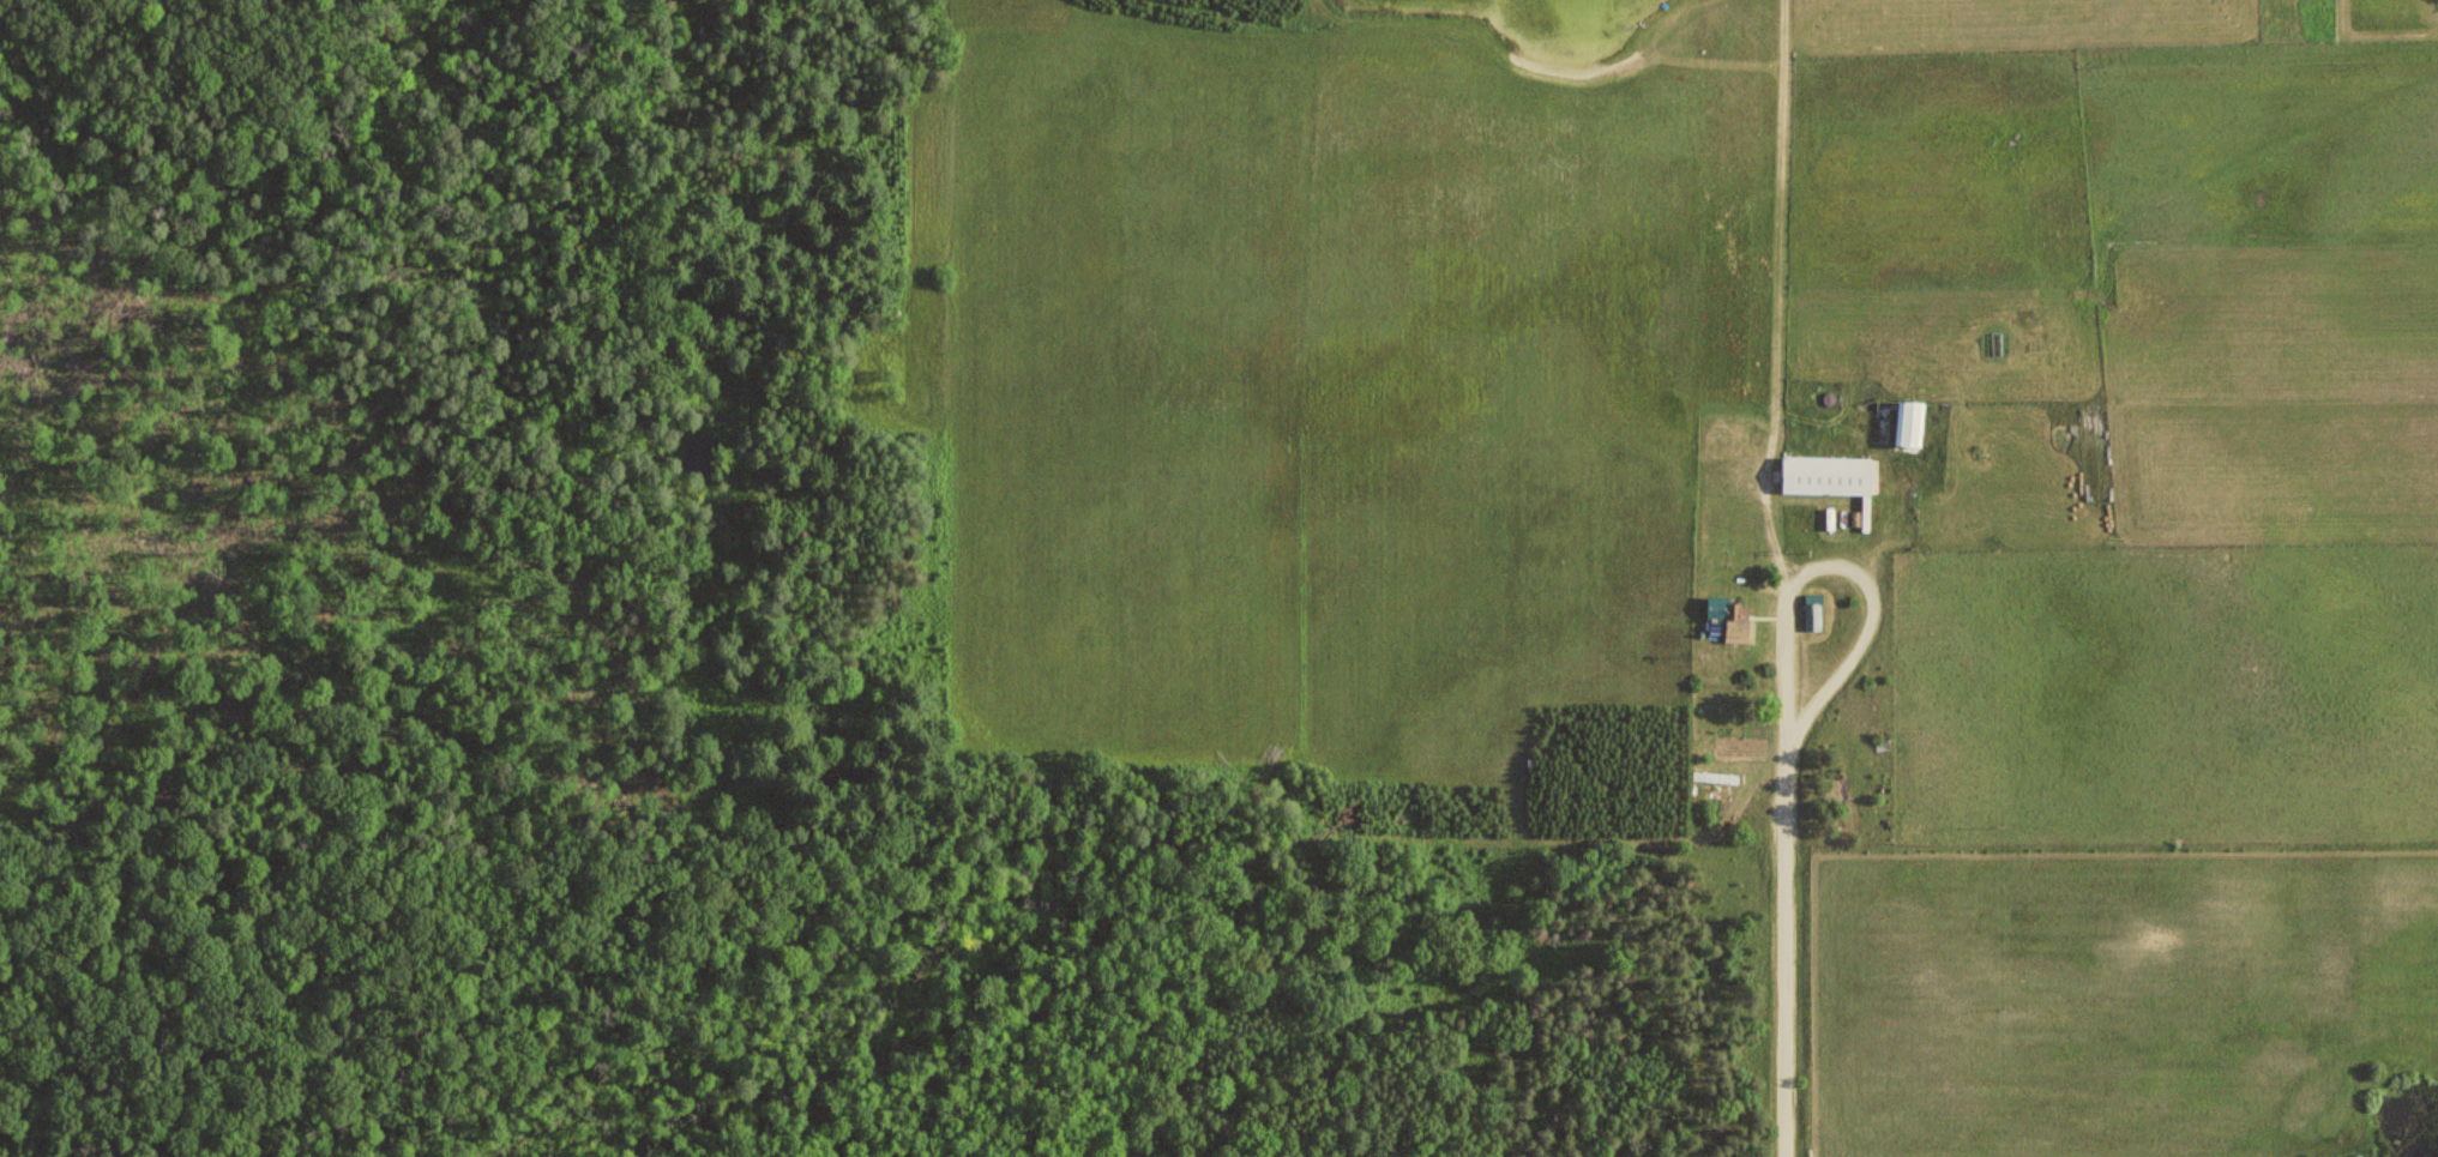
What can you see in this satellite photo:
building: (1913, 424)
building: (1832, 478)
building: (1814, 611)
building: (1735, 616)
building: (1716, 777)
road: (1783, 957)

